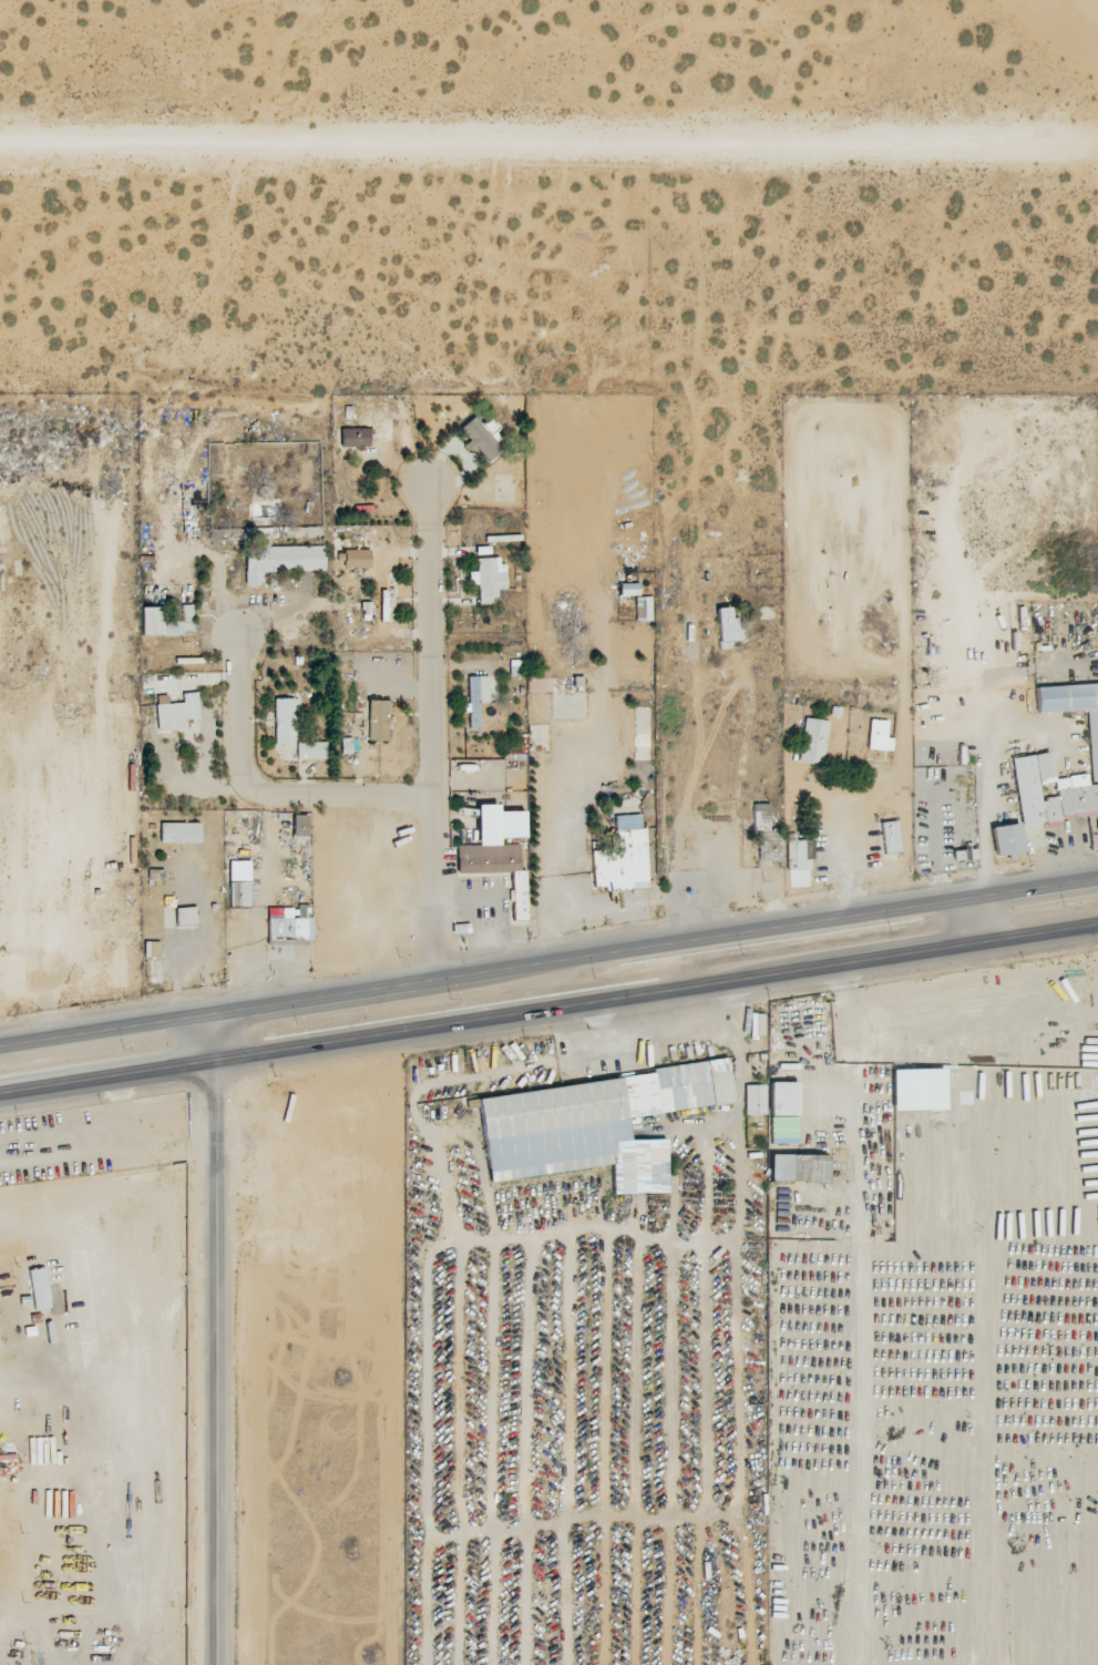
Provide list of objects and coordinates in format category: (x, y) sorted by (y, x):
road: (530, 139)
building: (352, 439)
building: (479, 441)
building: (355, 559)
building: (280, 561)
building: (486, 579)
building: (150, 622)
building: (178, 624)
building: (726, 629)
building: (475, 699)
building: (175, 713)
building: (377, 721)
building: (283, 722)
road: (432, 734)
building: (878, 736)
building: (811, 743)
building: (1092, 747)
building: (310, 750)
building: (1048, 791)
road: (266, 794)
building: (298, 826)
building: (178, 832)
building: (889, 838)
building: (1005, 840)
building: (779, 848)
building: (495, 852)
building: (620, 857)
road: (843, 858)
building: (238, 893)
building: (185, 917)
road: (974, 925)
building: (286, 929)
building: (235, 930)
road: (548, 963)
road: (548, 1013)
building: (920, 1090)
building: (753, 1100)
building: (781, 1113)
building: (589, 1126)
building: (797, 1168)
building: (9, 1239)
road: (218, 1340)

